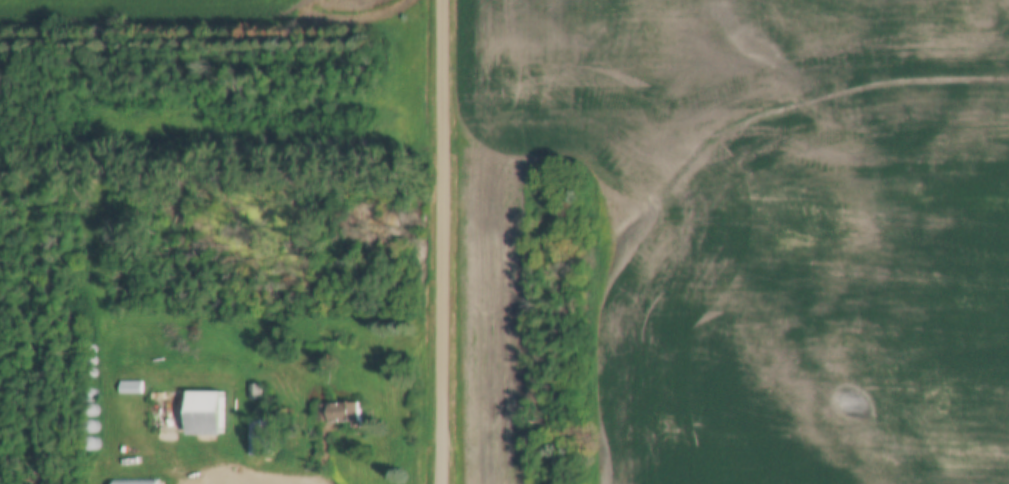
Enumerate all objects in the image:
road: (443, 242)
building: (130, 386)
building: (338, 411)
building: (206, 412)
building: (260, 436)
building: (92, 445)
building: (89, 466)
building: (133, 481)

